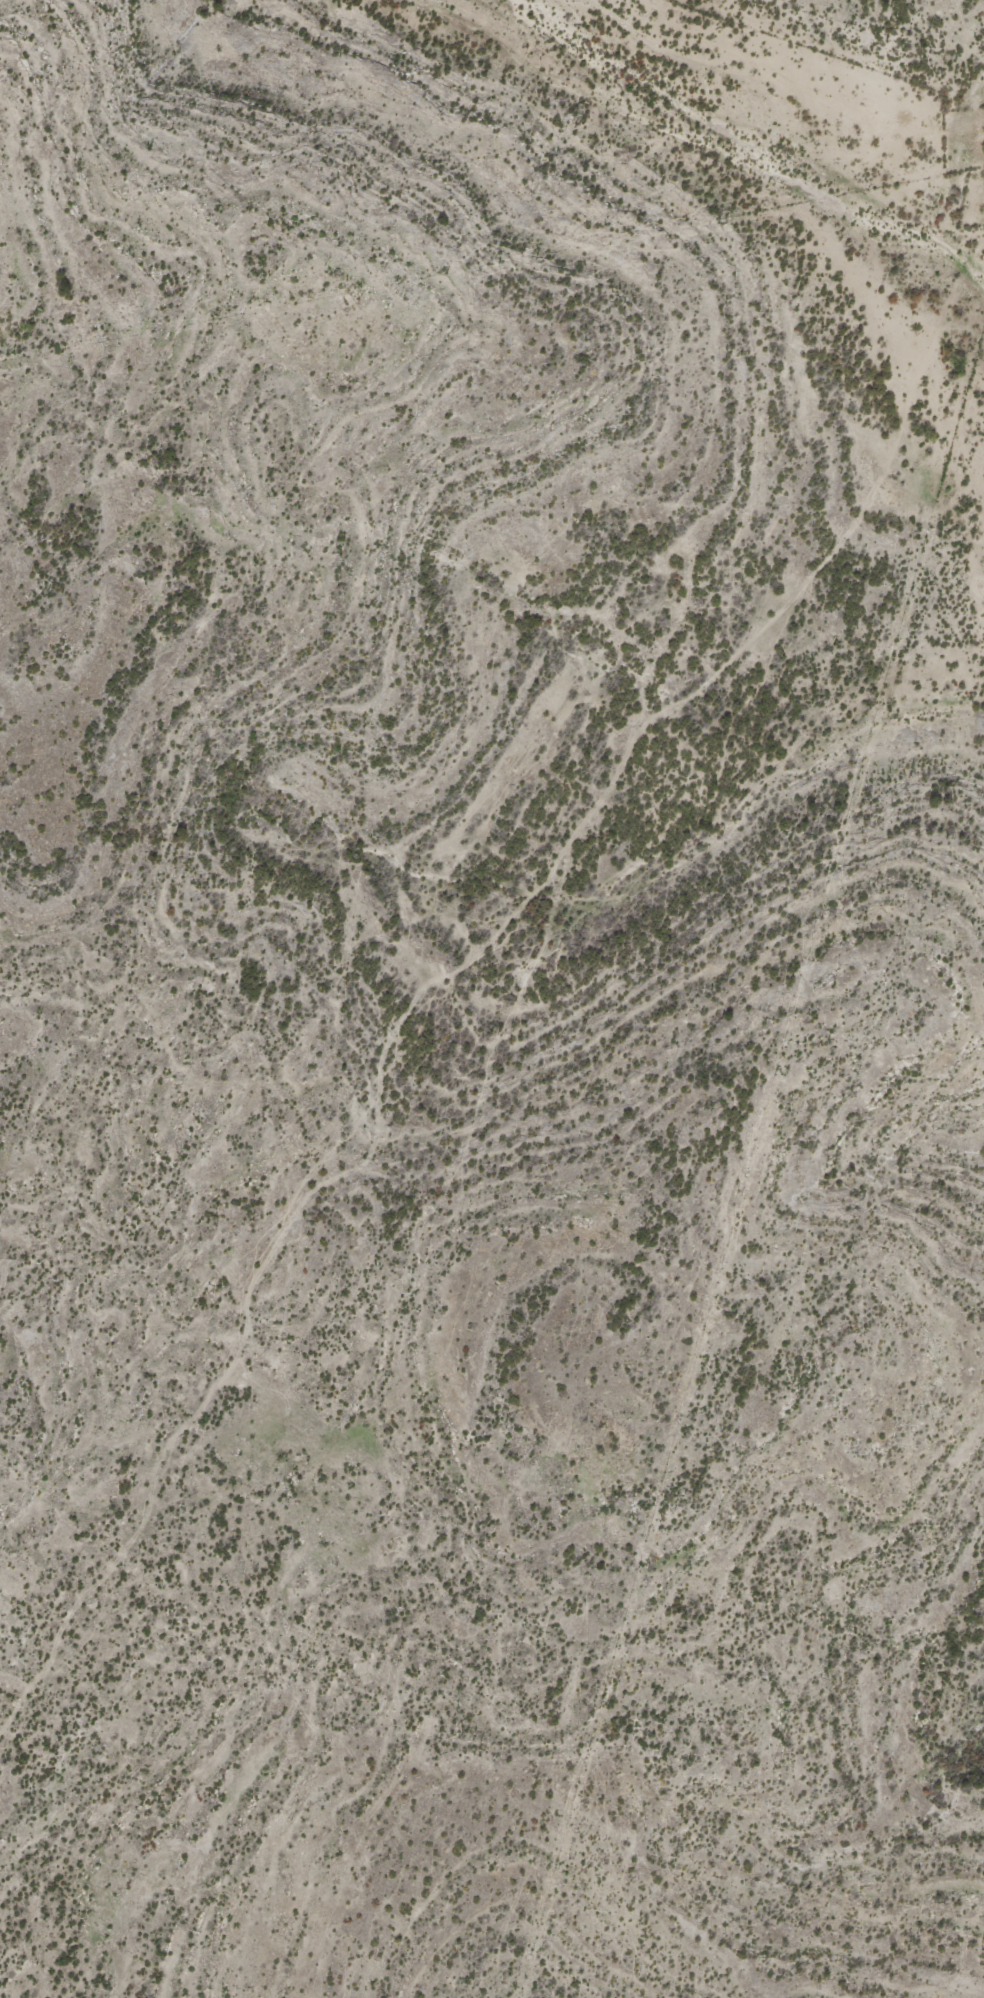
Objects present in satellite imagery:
road: (782, 91)

